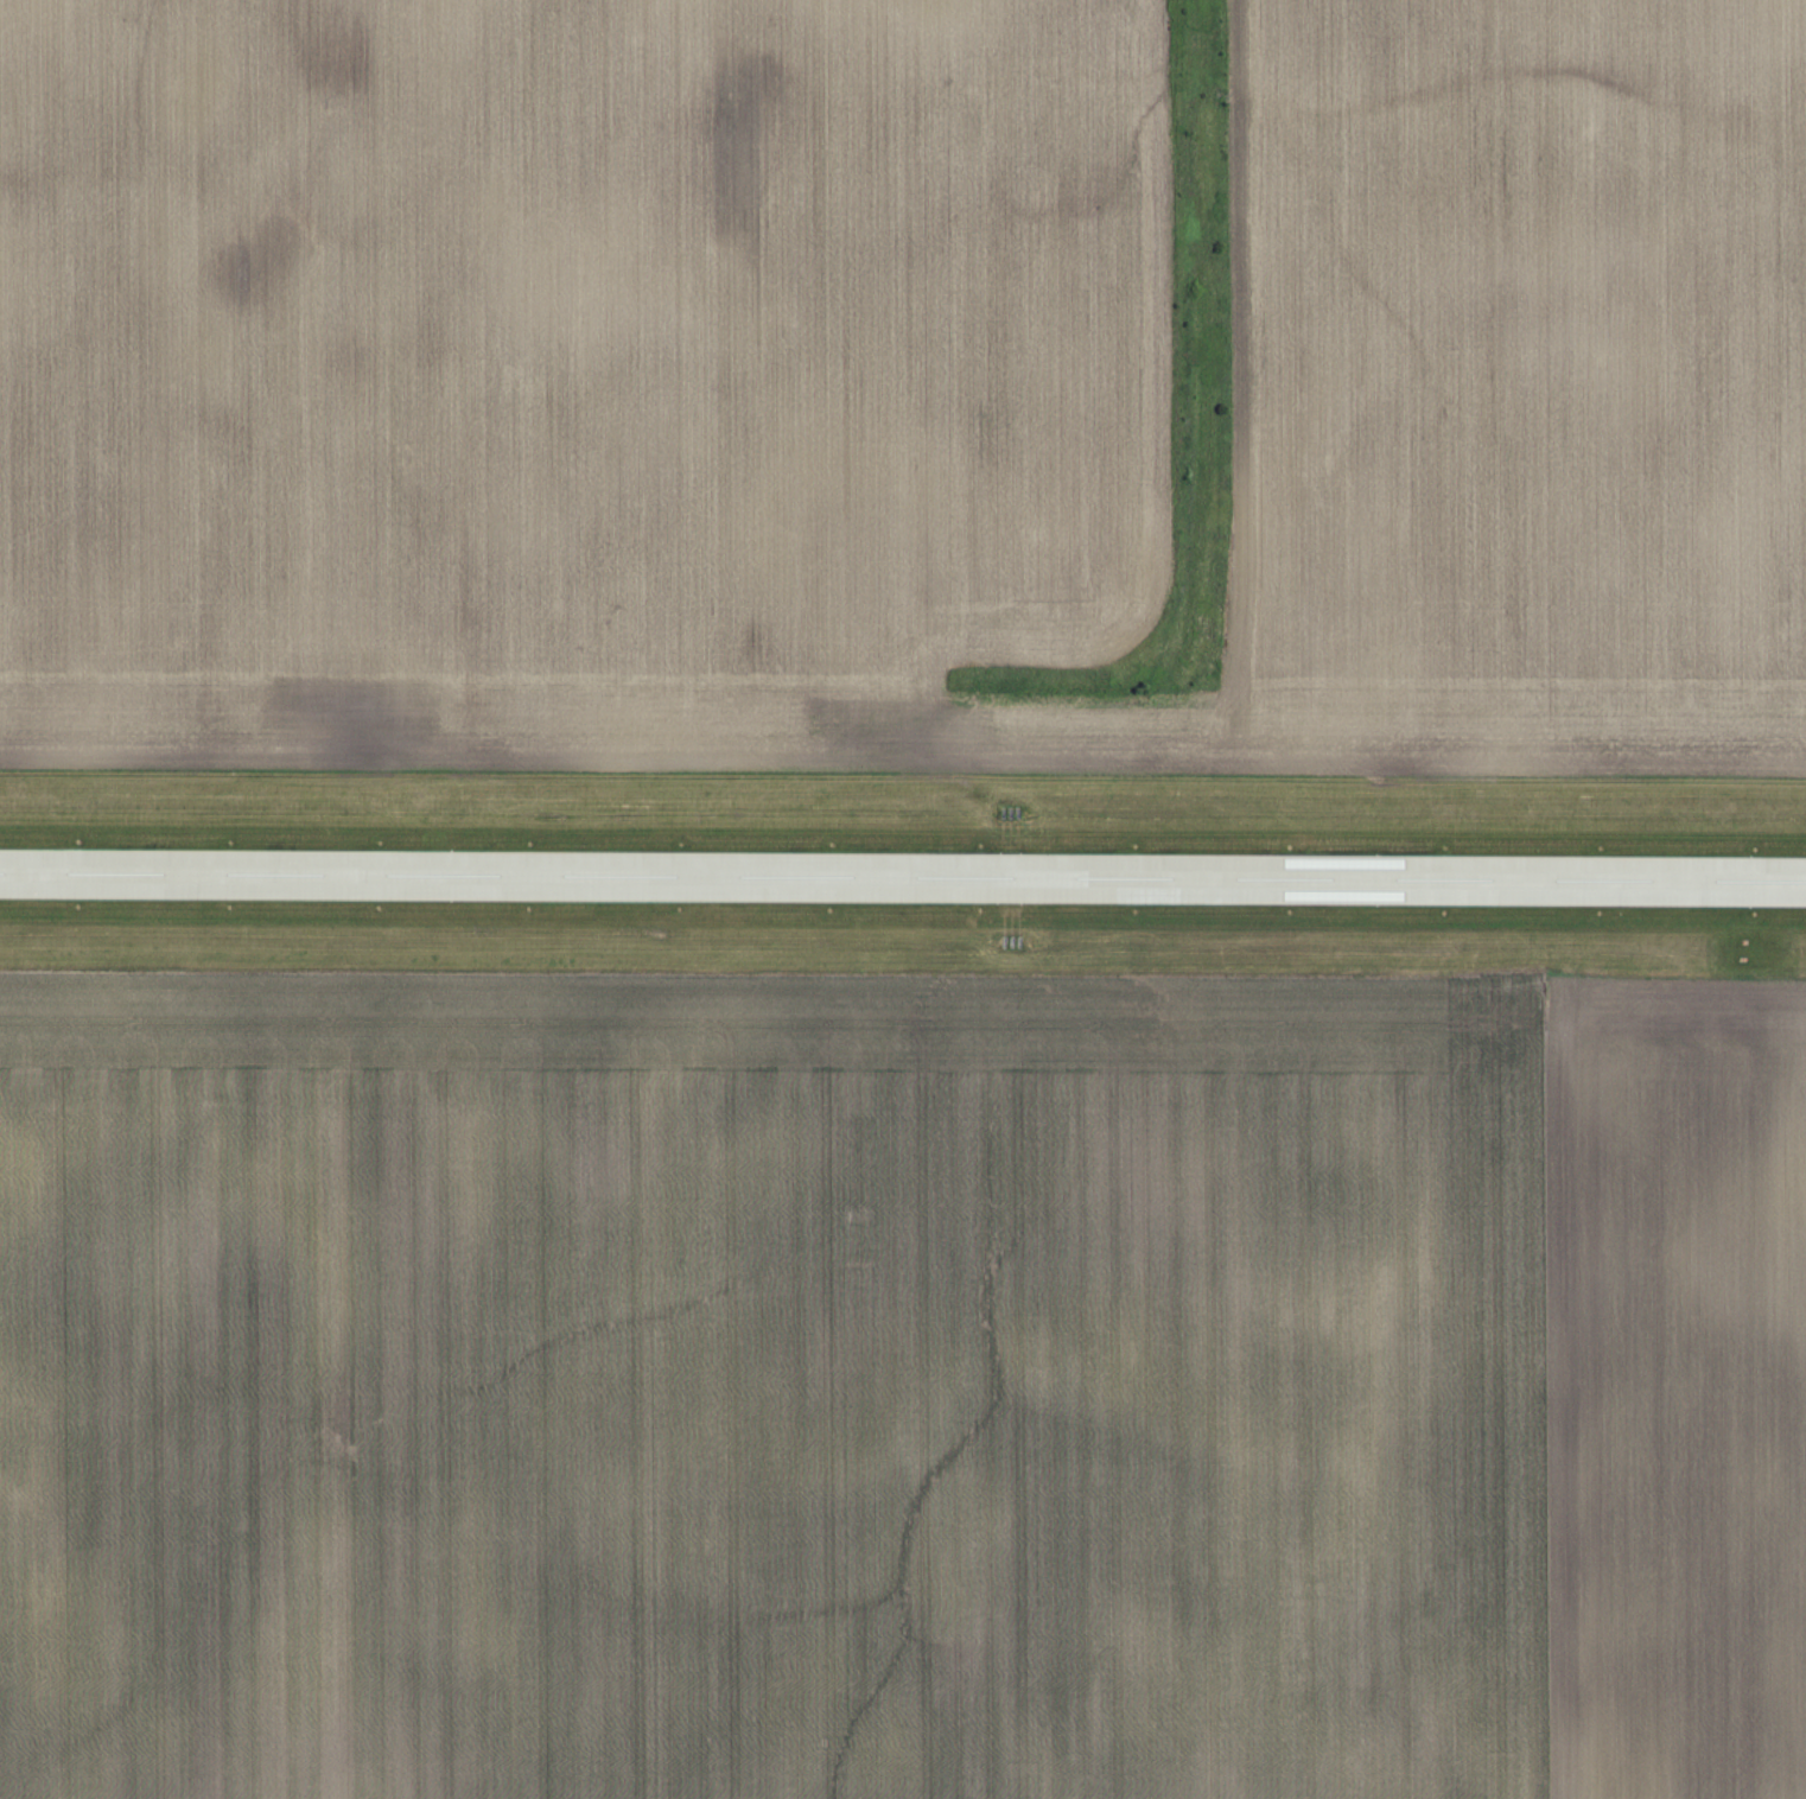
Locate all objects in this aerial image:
airport runway: (903, 876)
airport: (903, 877)

